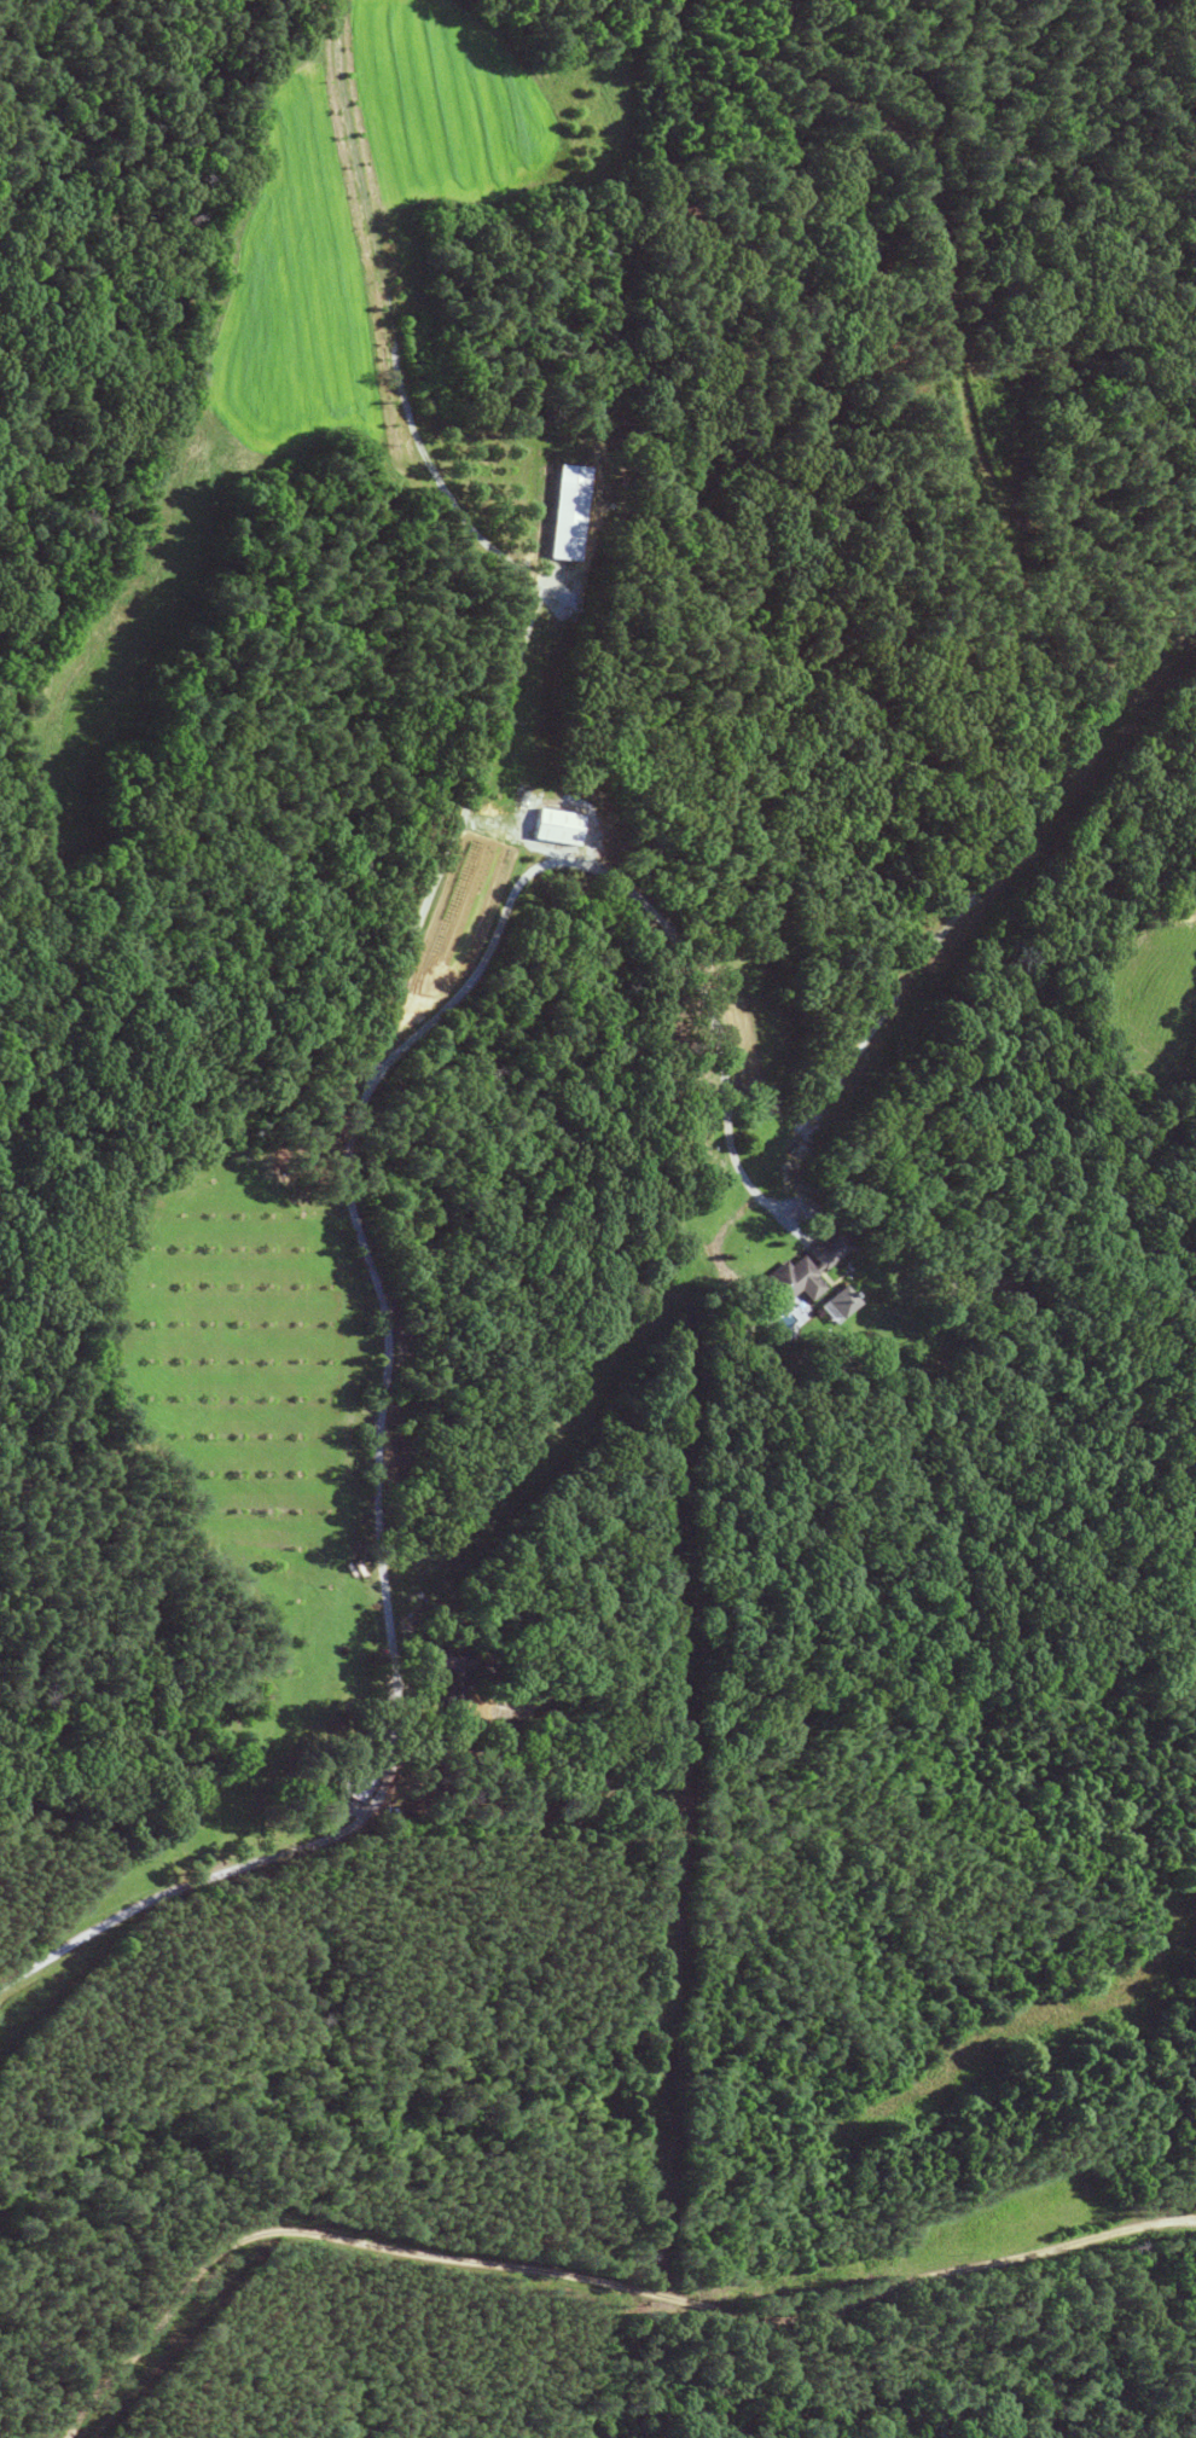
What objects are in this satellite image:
building: (562, 512)
building: (826, 1247)
building: (793, 1281)
building: (446, 1670)
building: (347, 1780)

